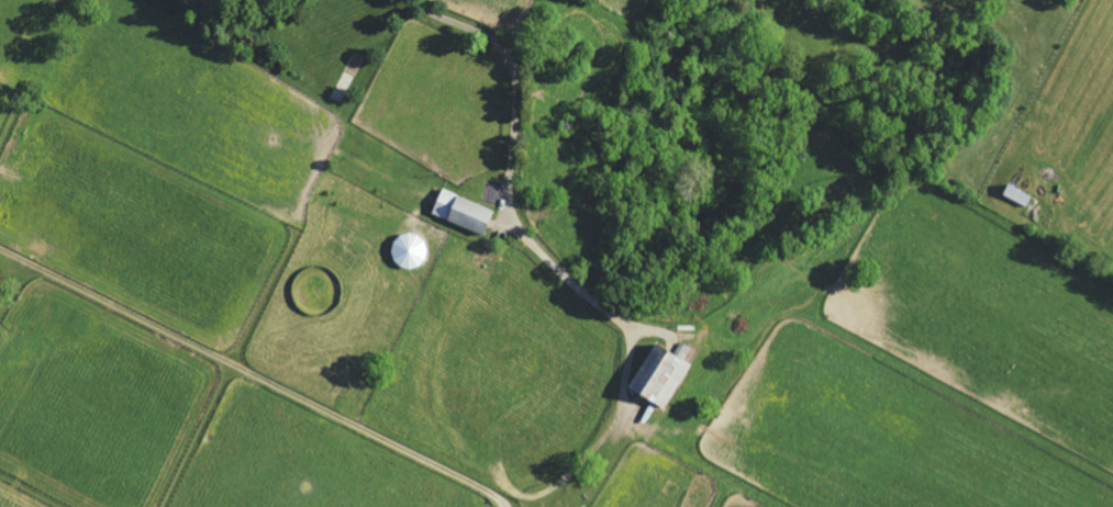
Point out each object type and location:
building: (266, 1)
road: (514, 157)
building: (1021, 196)
building: (467, 214)
road: (254, 375)
building: (665, 375)

